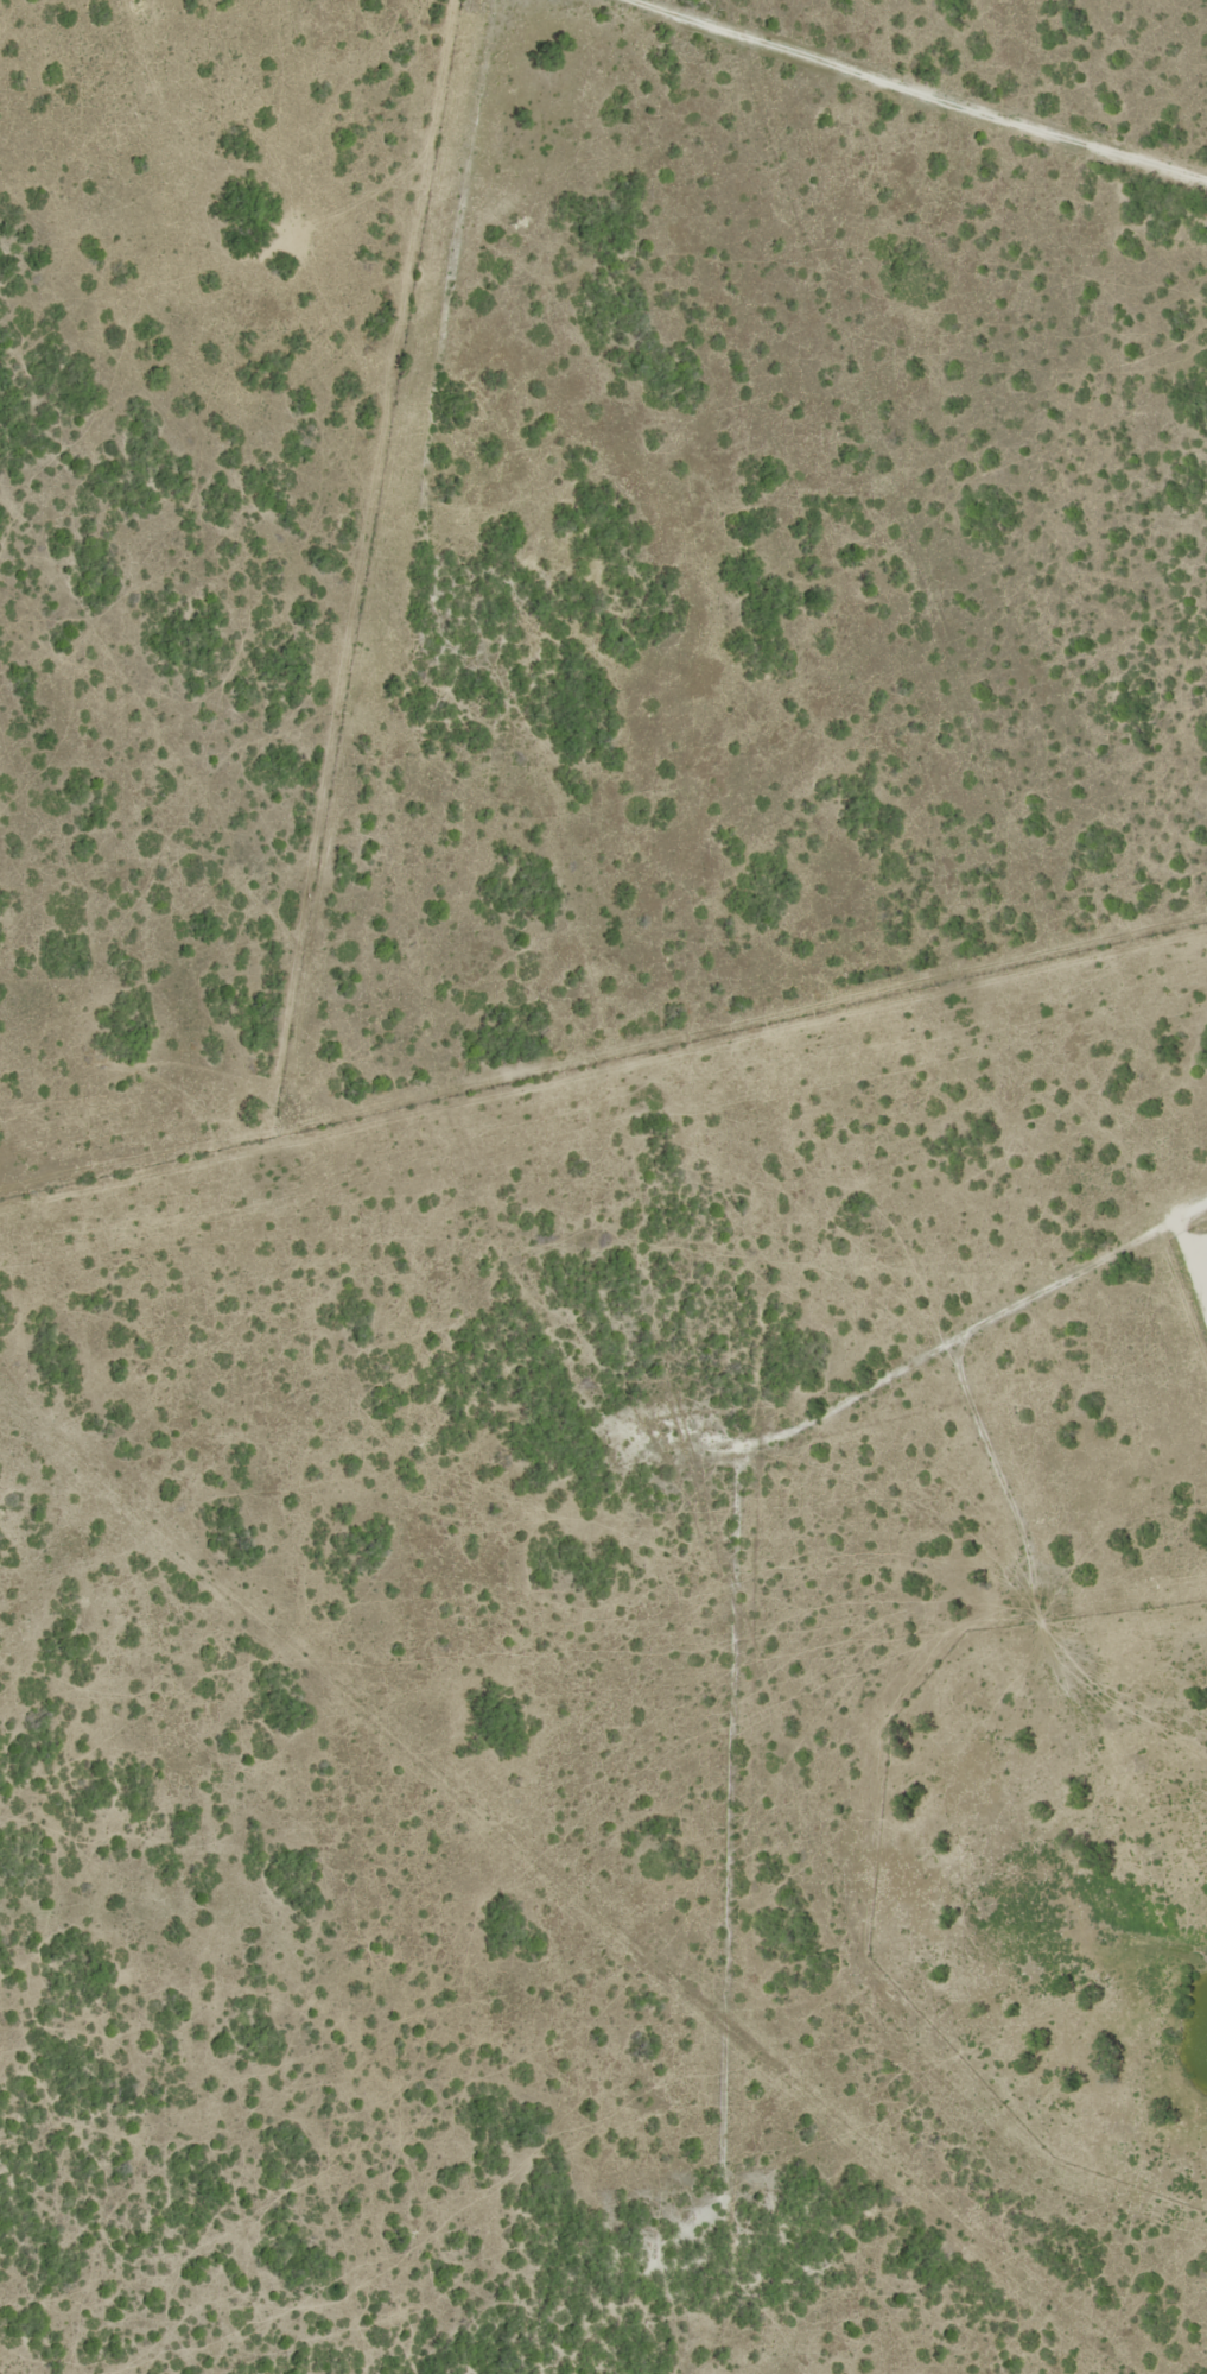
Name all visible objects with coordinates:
road: (936, 89)

